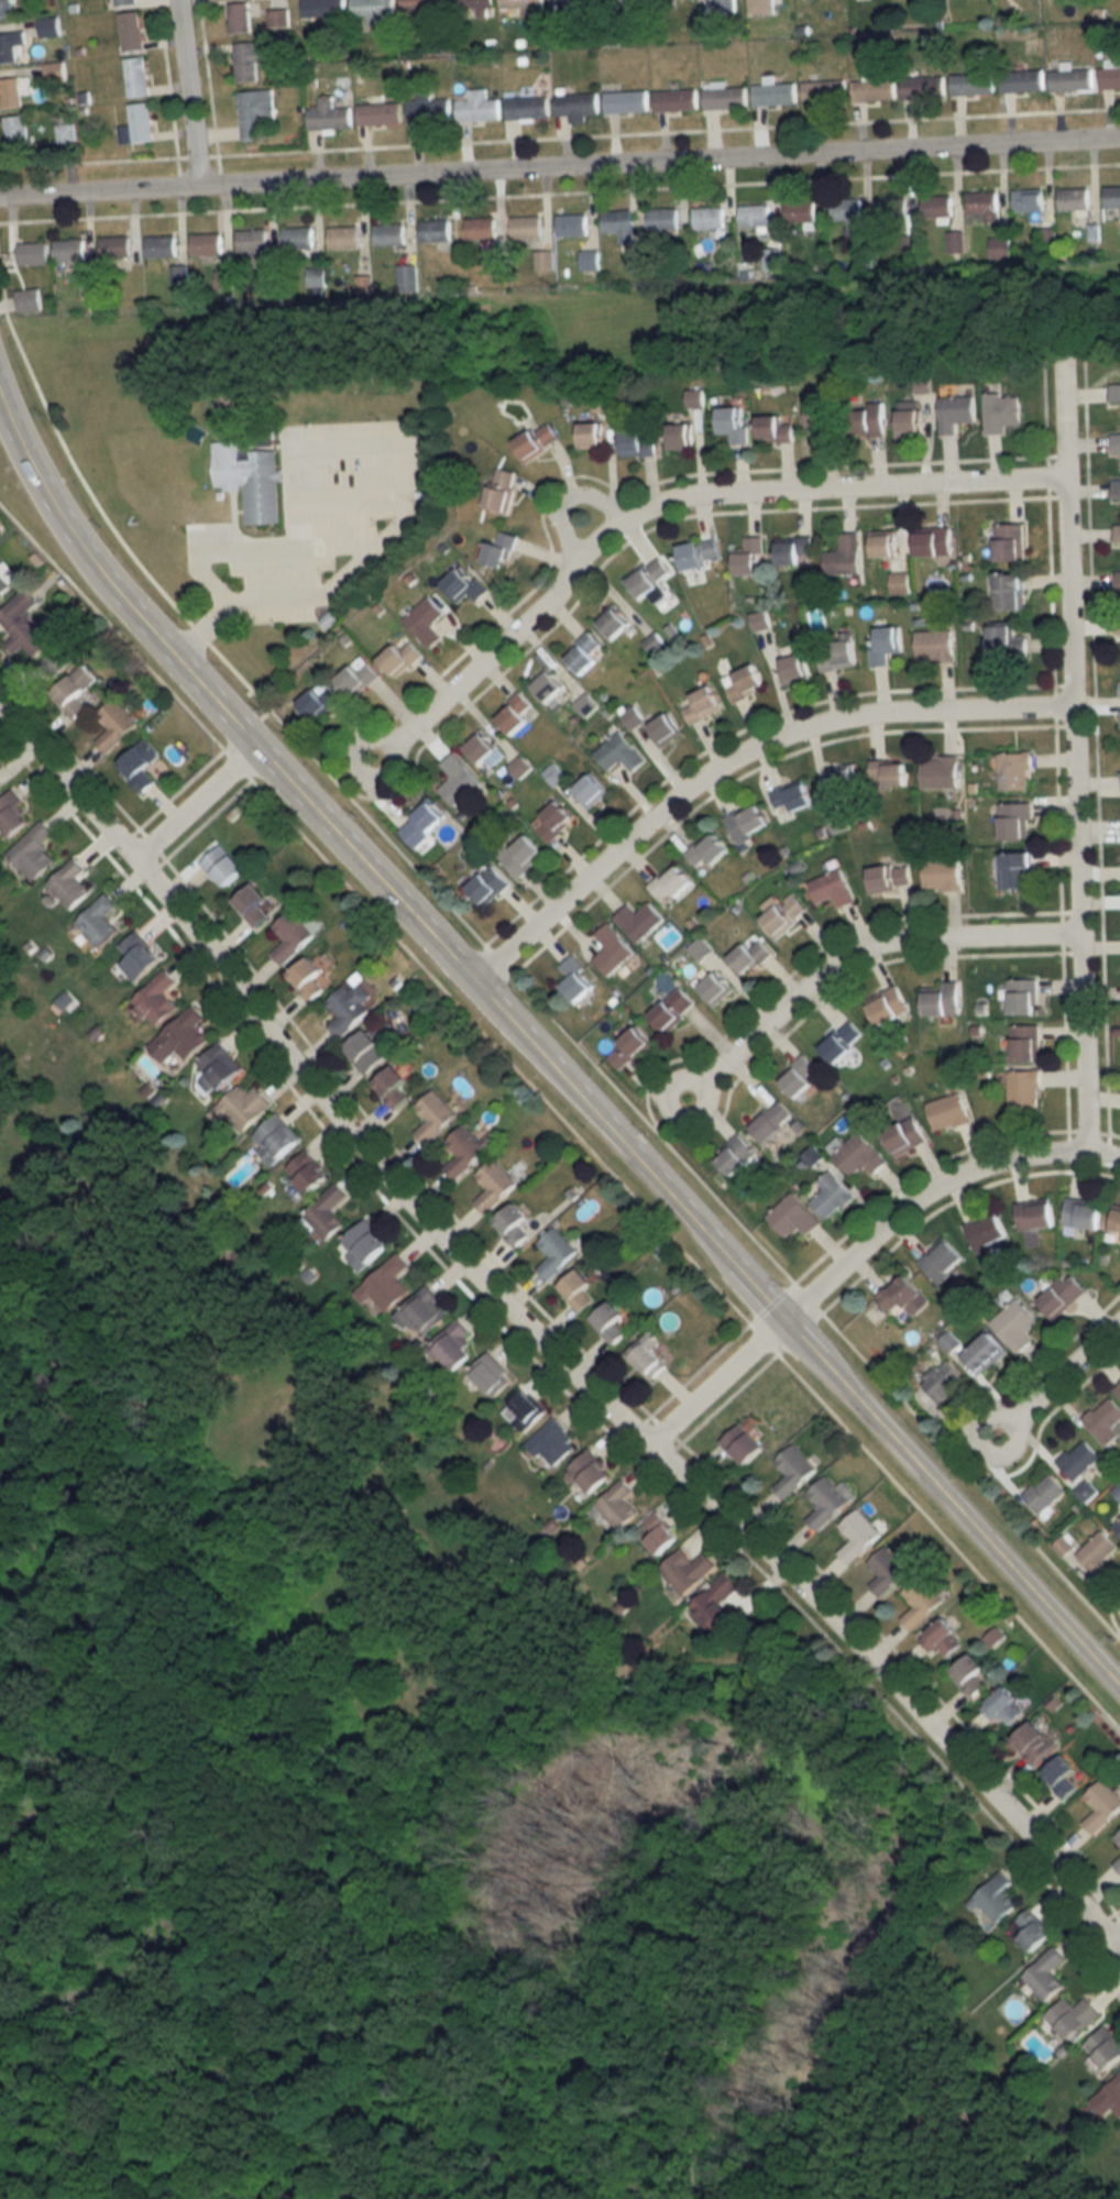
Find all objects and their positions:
building: (621, 0)
building: (124, 3)
building: (520, 3)
building: (472, 4)
building: (569, 7)
building: (760, 7)
building: (6, 8)
building: (421, 8)
building: (321, 9)
building: (374, 10)
building: (239, 18)
building: (277, 19)
building: (50, 28)
building: (130, 32)
building: (10, 45)
building: (249, 61)
building: (1110, 75)
building: (135, 77)
building: (1021, 80)
building: (1070, 80)
building: (971, 84)
building: (921, 88)
building: (874, 90)
building: (822, 92)
road: (186, 95)
building: (773, 95)
building: (725, 98)
building: (674, 100)
building: (625, 102)
building: (577, 106)
building: (477, 108)
building: (527, 108)
building: (427, 110)
building: (12, 111)
building: (254, 112)
building: (378, 114)
building: (328, 117)
building: (136, 124)
road: (560, 169)
building: (1111, 196)
building: (1028, 199)
building: (1073, 199)
building: (984, 202)
building: (935, 206)
building: (896, 210)
building: (800, 211)
building: (846, 211)
building: (754, 216)
building: (709, 218)
building: (662, 219)
building: (618, 223)
building: (571, 224)
building: (526, 227)
building: (479, 228)
building: (433, 230)
building: (388, 233)
building: (297, 237)
building: (343, 237)
building: (252, 240)
building: (955, 240)
building: (206, 244)
building: (114, 246)
building: (161, 246)
building: (1000, 246)
building: (68, 249)
building: (32, 253)
building: (543, 259)
building: (771, 259)
building: (316, 276)
building: (406, 276)
building: (28, 300)
building: (1114, 393)
building: (955, 411)
building: (1000, 411)
building: (821, 418)
building: (867, 420)
building: (908, 420)
building: (732, 422)
building: (773, 428)
building: (590, 435)
building: (264, 436)
building: (679, 436)
building: (637, 442)
building: (1116, 443)
road: (354, 444)
building: (250, 477)
building: (1116, 488)
building: (501, 491)
road: (572, 495)
road: (669, 505)
building: (1117, 534)
road: (1064, 536)
building: (933, 541)
building: (1010, 541)
building: (882, 543)
building: (499, 548)
building: (792, 549)
road: (295, 550)
building: (699, 552)
building: (843, 554)
building: (748, 557)
building: (649, 576)
building: (899, 582)
building: (464, 585)
building: (3, 587)
building: (1118, 589)
building: (1010, 591)
building: (425, 620)
building: (612, 622)
building: (1118, 625)
building: (24, 626)
road: (119, 633)
building: (1007, 640)
building: (885, 644)
building: (934, 646)
building: (583, 653)
building: (838, 656)
building: (399, 658)
building: (793, 669)
building: (358, 678)
building: (745, 683)
building: (547, 686)
building: (76, 692)
building: (319, 701)
building: (702, 705)
building: (515, 713)
building: (632, 717)
building: (116, 725)
building: (665, 728)
building: (484, 751)
building: (618, 752)
road: (733, 758)
building: (139, 765)
building: (938, 771)
building: (1013, 771)
building: (888, 773)
building: (458, 779)
building: (843, 779)
road: (65, 787)
building: (590, 790)
building: (793, 796)
road: (193, 803)
building: (12, 814)
building: (553, 820)
building: (1014, 820)
building: (747, 822)
building: (421, 823)
building: (33, 850)
building: (706, 850)
building: (519, 854)
building: (222, 865)
building: (1017, 870)
building: (942, 873)
building: (888, 877)
building: (670, 882)
building: (69, 883)
road: (380, 883)
building: (487, 884)
building: (832, 889)
building: (252, 904)
building: (782, 915)
building: (639, 920)
building: (98, 921)
road: (1075, 933)
building: (290, 936)
building: (612, 949)
road: (854, 952)
building: (138, 956)
building: (749, 957)
building: (308, 978)
building: (577, 978)
road: (516, 979)
building: (714, 989)
building: (1022, 997)
building: (155, 998)
building: (942, 1000)
building: (888, 1005)
building: (348, 1007)
building: (671, 1010)
building: (179, 1040)
building: (839, 1042)
building: (1024, 1042)
building: (628, 1048)
building: (364, 1051)
building: (218, 1067)
building: (800, 1076)
building: (392, 1086)
building: (1023, 1088)
building: (240, 1107)
building: (948, 1112)
building: (433, 1115)
building: (771, 1121)
building: (904, 1135)
building: (274, 1139)
building: (466, 1150)
building: (856, 1154)
building: (735, 1155)
road: (374, 1165)
building: (307, 1170)
building: (494, 1186)
building: (831, 1196)
building: (327, 1212)
building: (1081, 1213)
building: (1034, 1216)
building: (793, 1217)
building: (1114, 1219)
building: (513, 1225)
building: (986, 1231)
road: (679, 1242)
building: (363, 1245)
road: (859, 1251)
building: (556, 1253)
building: (942, 1260)
building: (385, 1285)
building: (577, 1289)
building: (903, 1295)
building: (1062, 1295)
building: (421, 1312)
building: (610, 1322)
building: (1014, 1324)
building: (947, 1342)
building: (451, 1348)
building: (984, 1353)
building: (646, 1357)
building: (491, 1374)
road: (1057, 1379)
building: (942, 1381)
building: (1118, 1389)
building: (524, 1410)
building: (1103, 1420)
building: (551, 1442)
building: (742, 1443)
building: (1078, 1459)
building: (792, 1470)
building: (588, 1473)
building: (1044, 1493)
building: (827, 1500)
building: (616, 1505)
road: (951, 1505)
building: (1117, 1526)
building: (660, 1533)
building: (857, 1535)
building: (1062, 1546)
building: (1097, 1551)
building: (688, 1570)
building: (886, 1571)
building: (716, 1602)
building: (921, 1602)
building: (942, 1638)
building: (970, 1674)
road: (892, 1684)
building: (1004, 1706)
building: (1034, 1742)
road: (281, 1775)
building: (1063, 1775)
building: (1102, 1805)
park: (358, 1829)
building: (1119, 1837)
building: (1118, 1865)
building: (996, 1898)
building: (1033, 1931)
road: (1114, 1943)
road: (1114, 1955)
building: (1047, 1975)
building: (1073, 2016)
building: (1106, 2048)
building: (1108, 2098)

